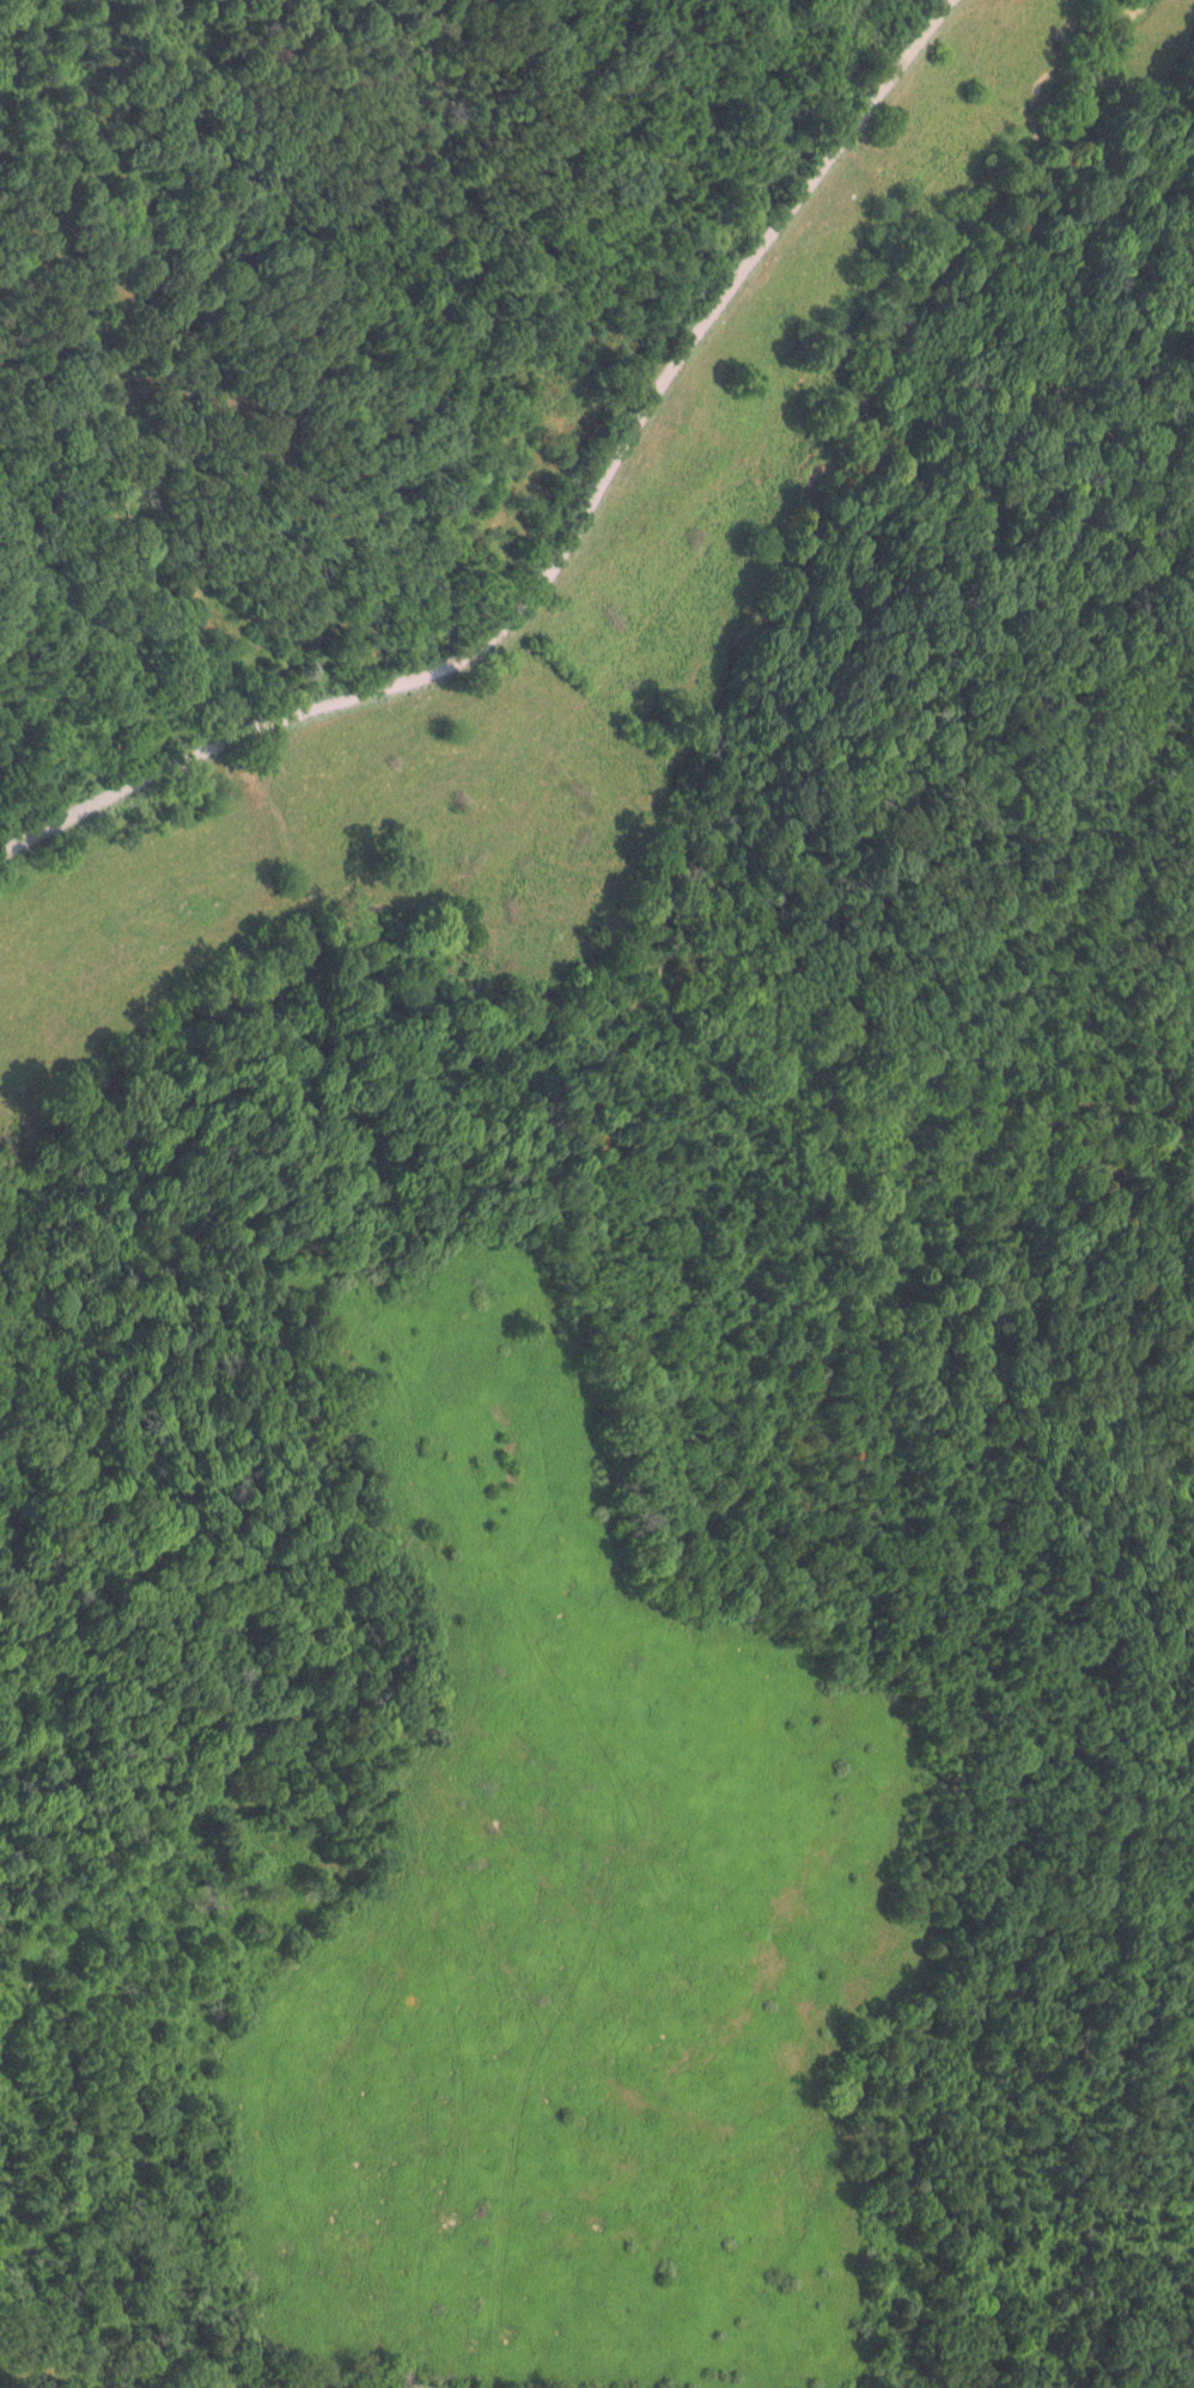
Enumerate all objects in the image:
road: (573, 542)

